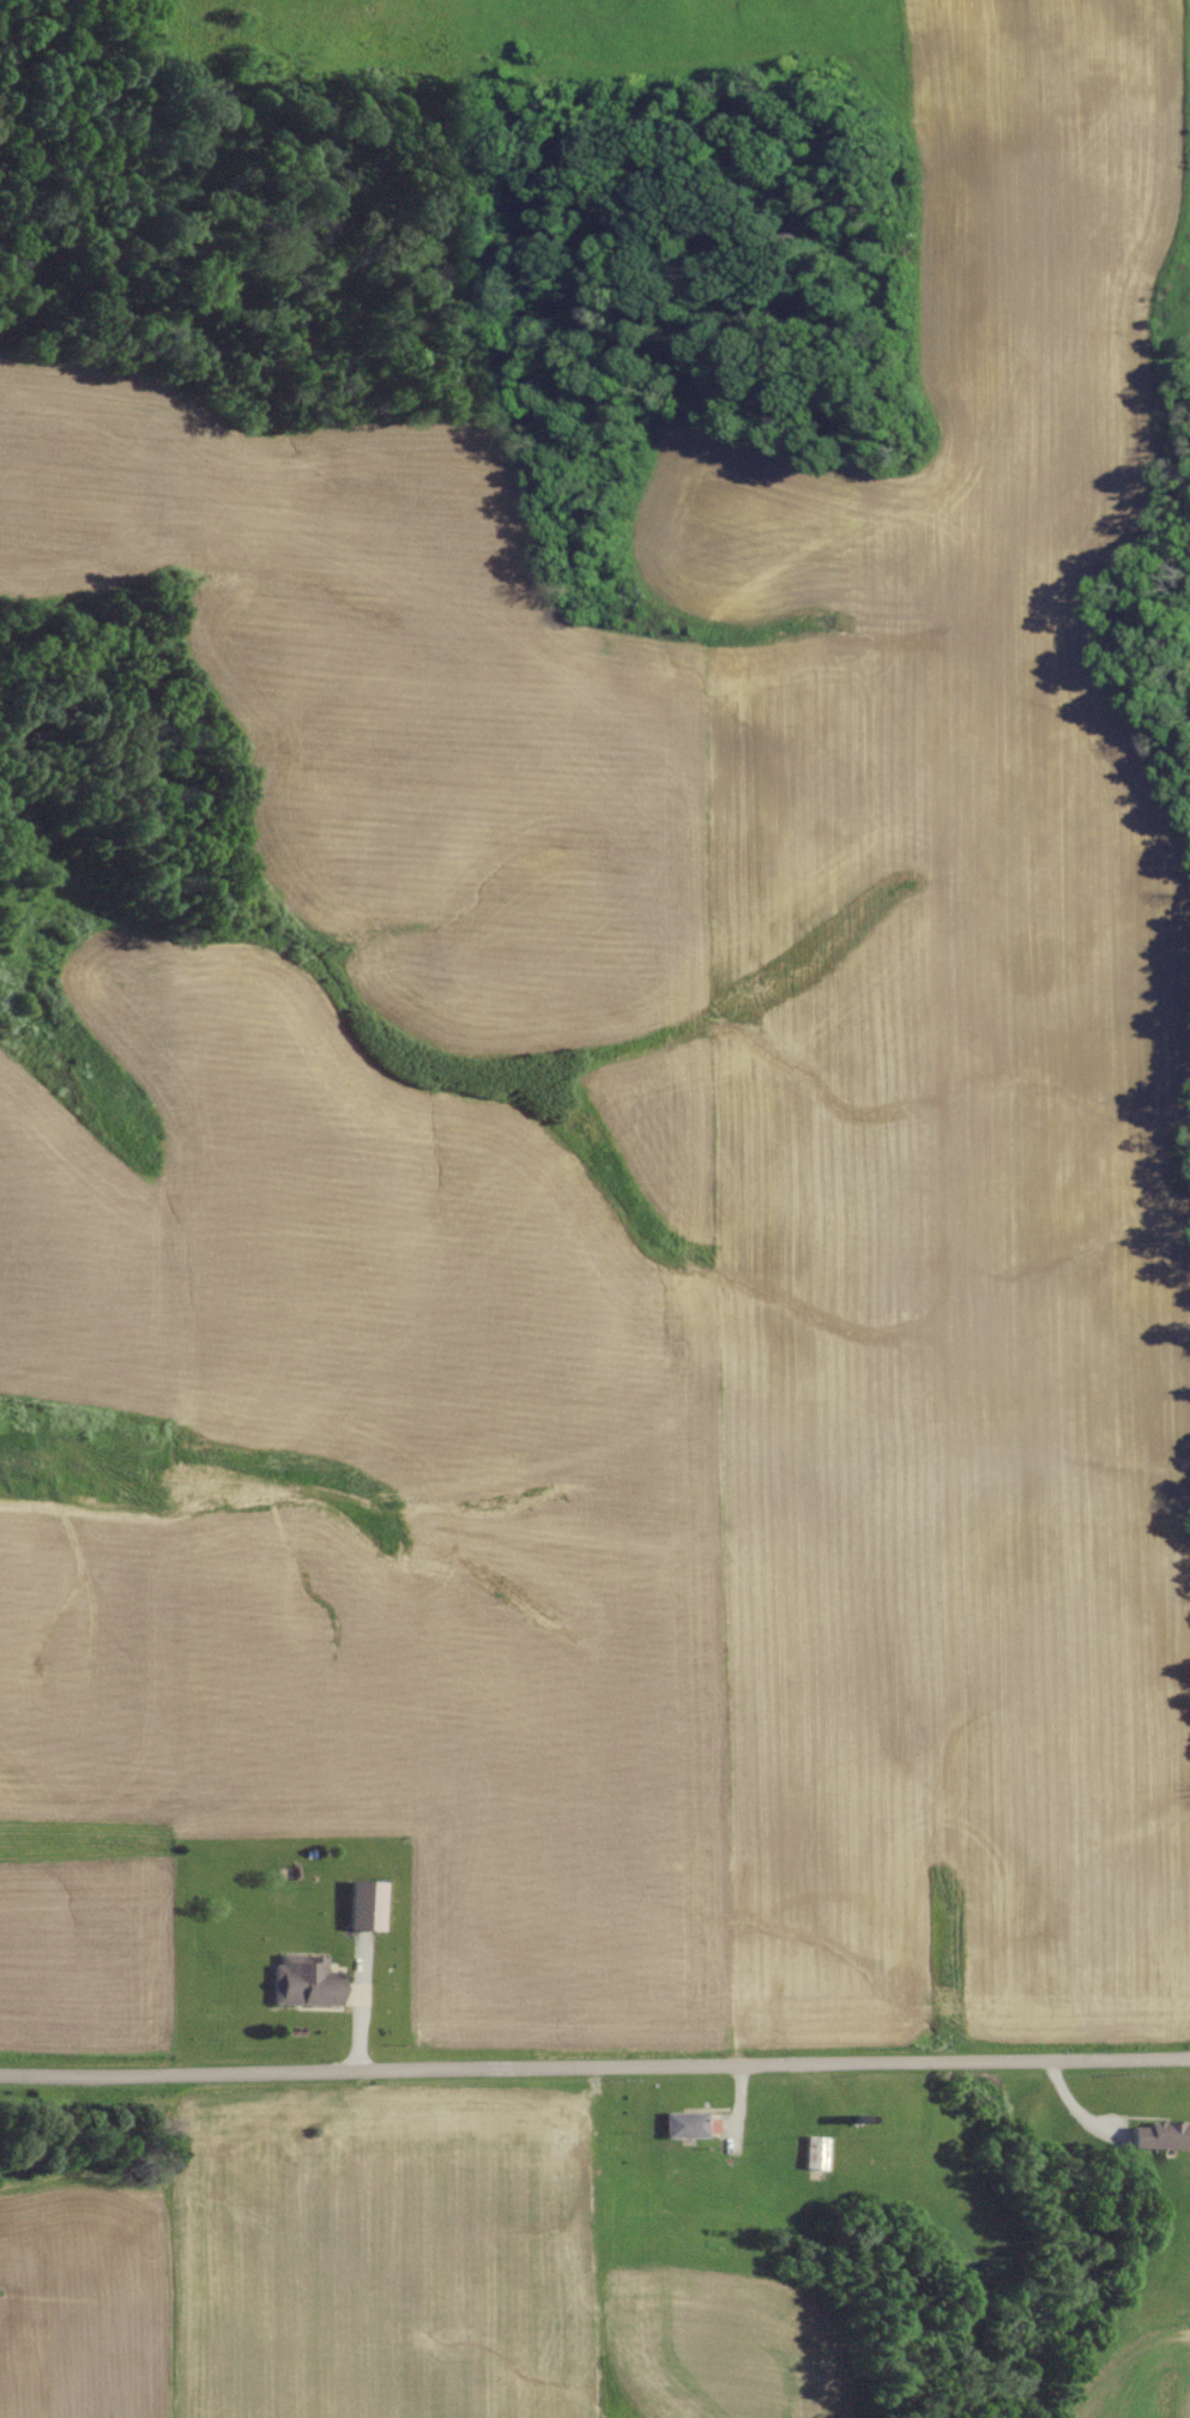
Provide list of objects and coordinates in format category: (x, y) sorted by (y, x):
building: (366, 1906)
building: (306, 1983)
road: (594, 2070)
building: (684, 2125)
building: (1162, 2137)
building: (817, 2154)

